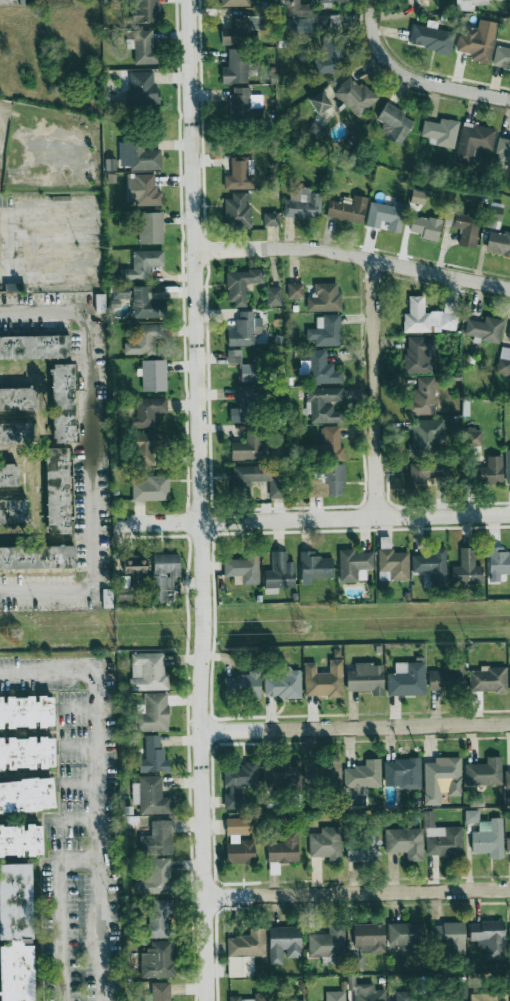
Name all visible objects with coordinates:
building: (331, 0)
building: (110, 2)
building: (234, 3)
building: (296, 8)
building: (143, 11)
building: (327, 21)
building: (298, 25)
building: (242, 30)
building: (430, 38)
building: (477, 41)
building: (144, 48)
building: (502, 54)
building: (330, 55)
building: (509, 62)
building: (235, 66)
road: (415, 78)
building: (142, 87)
building: (354, 95)
building: (319, 102)
building: (243, 105)
road: (0, 122)
building: (394, 123)
building: (440, 132)
building: (473, 142)
building: (502, 150)
building: (144, 157)
building: (509, 159)
building: (240, 174)
building: (142, 191)
building: (302, 204)
building: (347, 209)
building: (237, 210)
building: (385, 215)
building: (492, 216)
building: (270, 219)
building: (150, 227)
building: (425, 227)
building: (466, 227)
road: (8, 241)
building: (497, 242)
building: (509, 253)
road: (352, 254)
building: (142, 265)
building: (240, 284)
building: (295, 290)
building: (155, 291)
building: (273, 296)
building: (324, 298)
building: (140, 301)
building: (100, 302)
building: (428, 316)
building: (484, 328)
building: (245, 329)
building: (326, 331)
building: (509, 338)
building: (145, 339)
building: (34, 346)
building: (418, 354)
building: (233, 356)
building: (503, 360)
building: (319, 368)
building: (252, 370)
building: (153, 375)
road: (376, 388)
building: (422, 397)
building: (18, 399)
building: (63, 403)
building: (324, 404)
building: (245, 406)
building: (148, 410)
building: (15, 433)
building: (425, 436)
building: (472, 436)
building: (329, 444)
building: (145, 447)
building: (249, 447)
road: (92, 455)
building: (509, 455)
building: (507, 466)
building: (488, 471)
building: (426, 472)
building: (8, 475)
building: (260, 478)
building: (327, 481)
building: (150, 488)
building: (57, 490)
road: (198, 500)
building: (13, 511)
road: (324, 519)
building: (509, 556)
building: (37, 557)
building: (393, 563)
building: (497, 563)
building: (354, 565)
building: (314, 567)
building: (432, 567)
building: (467, 568)
building: (242, 570)
building: (279, 572)
building: (164, 574)
building: (130, 578)
building: (107, 598)
power tower: (292, 628)
power tower: (7, 635)
road: (47, 671)
building: (148, 671)
building: (509, 675)
building: (365, 678)
building: (323, 679)
building: (406, 679)
building: (447, 679)
building: (488, 679)
building: (283, 683)
building: (242, 685)
road: (75, 708)
building: (26, 711)
building: (153, 713)
road: (356, 726)
road: (76, 747)
building: (26, 752)
building: (153, 756)
building: (323, 771)
building: (484, 772)
building: (402, 773)
building: (363, 775)
building: (441, 778)
building: (507, 779)
building: (238, 783)
road: (78, 784)
building: (26, 795)
building: (150, 795)
road: (71, 819)
building: (236, 825)
road: (99, 835)
building: (442, 838)
building: (488, 838)
building: (157, 839)
building: (20, 840)
building: (509, 840)
building: (324, 842)
building: (405, 842)
building: (362, 846)
building: (283, 848)
building: (241, 851)
building: (157, 876)
road: (358, 890)
road: (60, 910)
building: (159, 919)
building: (16, 933)
building: (509, 933)
building: (405, 934)
building: (448, 936)
building: (368, 937)
building: (488, 938)
building: (284, 943)
building: (245, 952)
building: (157, 960)
building: (356, 963)
building: (459, 989)
building: (160, 991)
building: (335, 995)
building: (488, 996)
building: (251, 997)
building: (410, 997)
building: (289, 1000)

